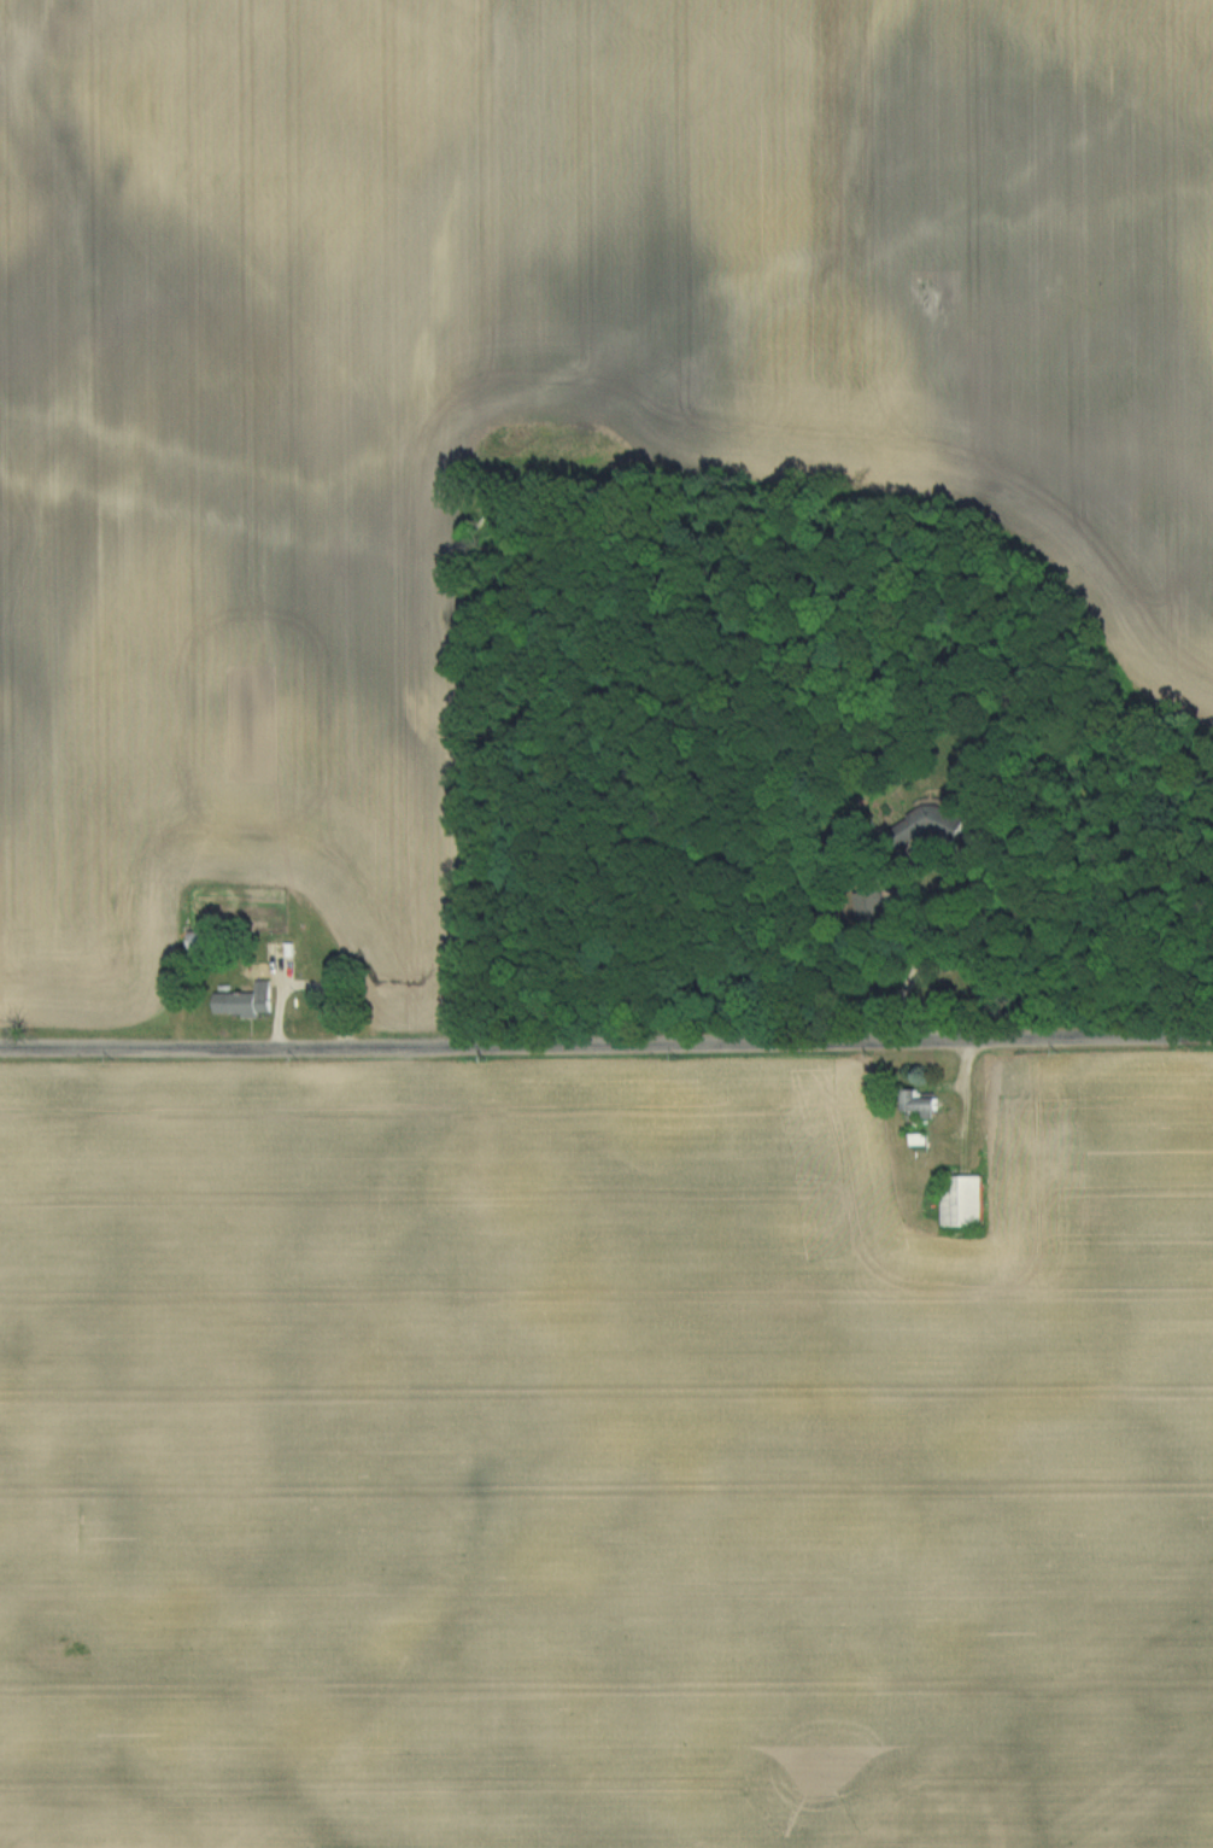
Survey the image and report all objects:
building: (904, 820)
road: (906, 978)
building: (248, 1000)
road: (606, 1046)
building: (924, 1100)
building: (967, 1200)

